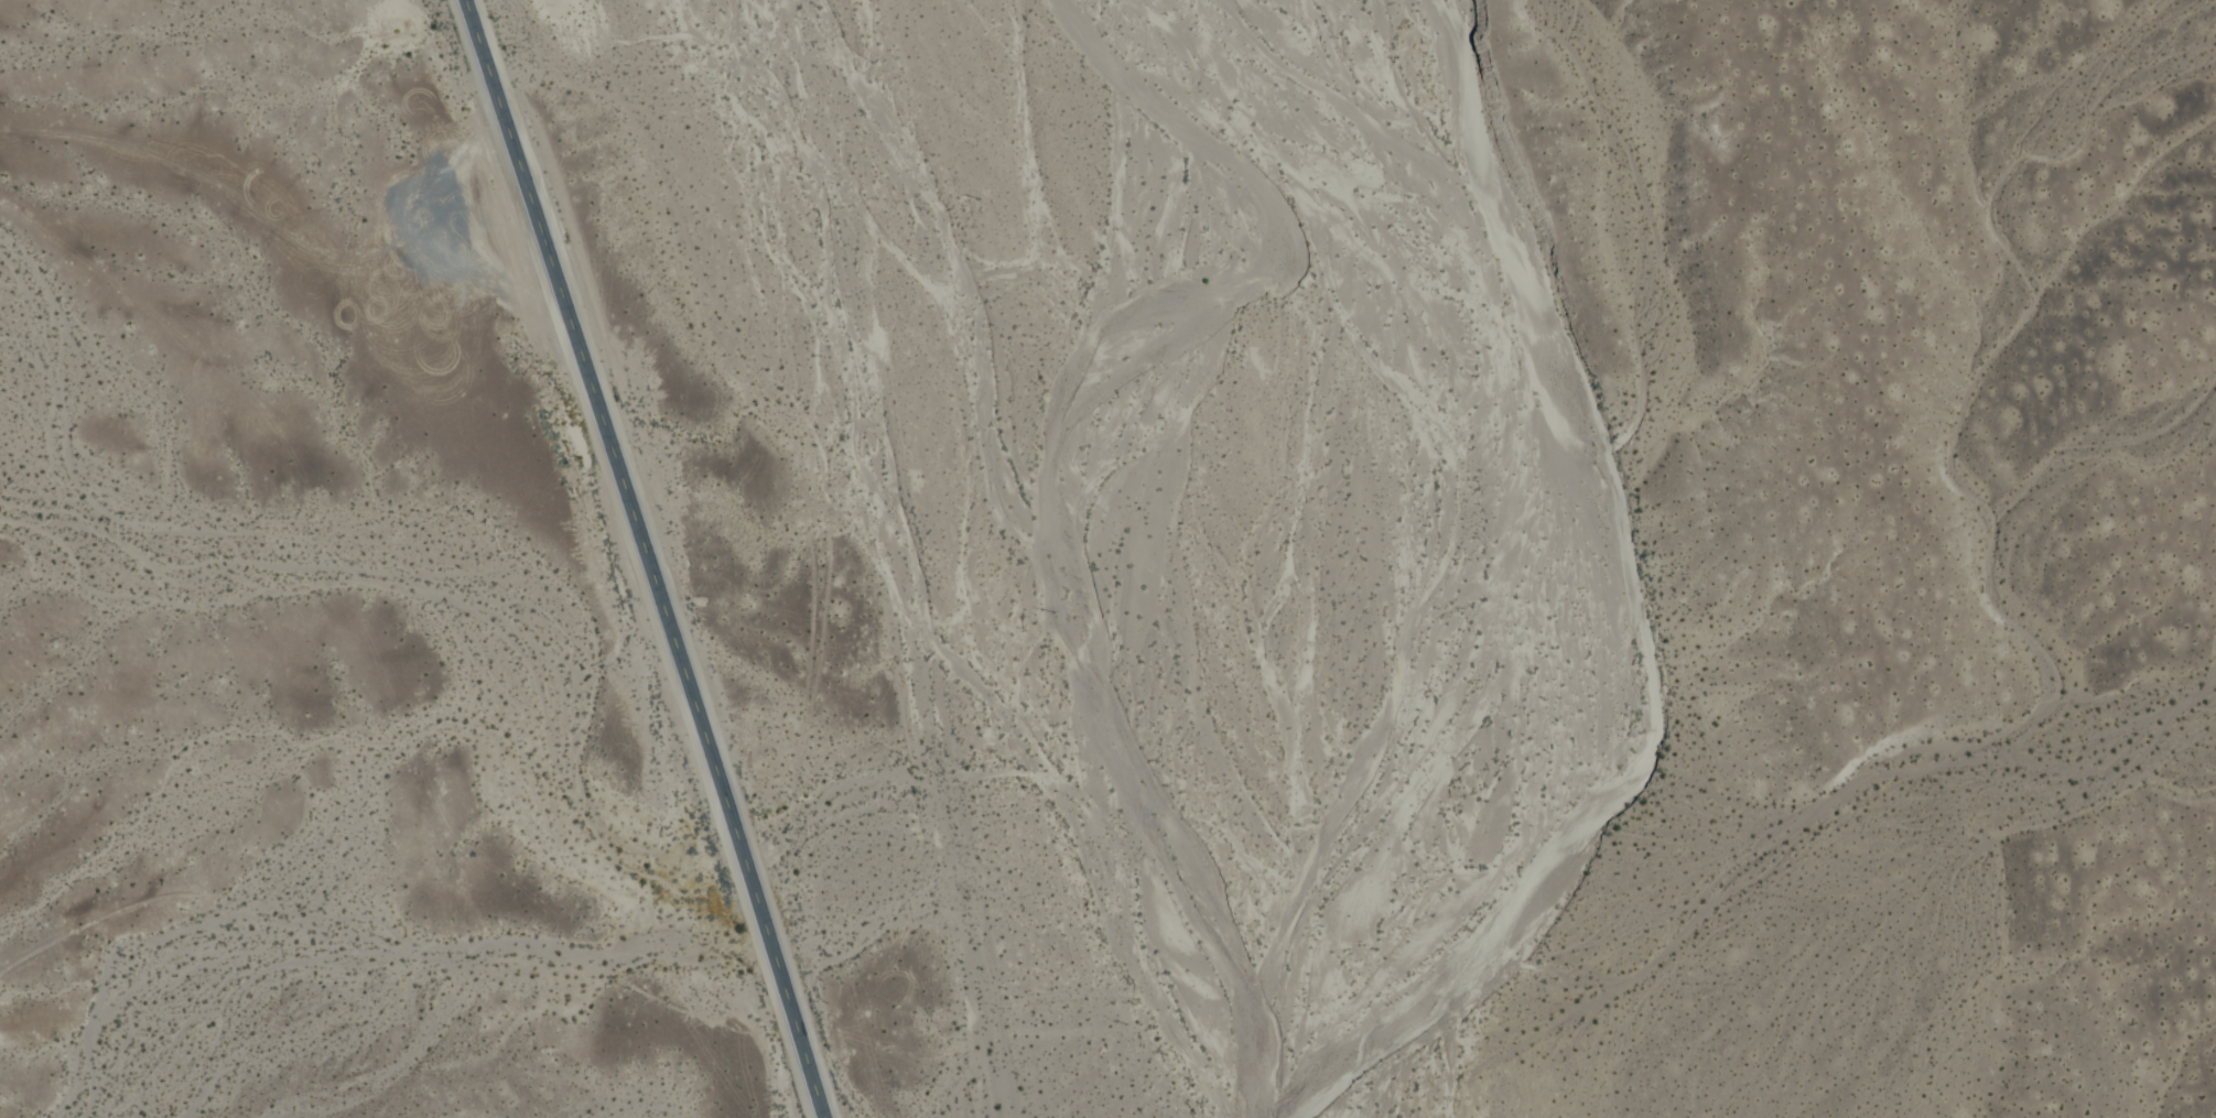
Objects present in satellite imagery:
river: (1429, 549)
road: (650, 557)

